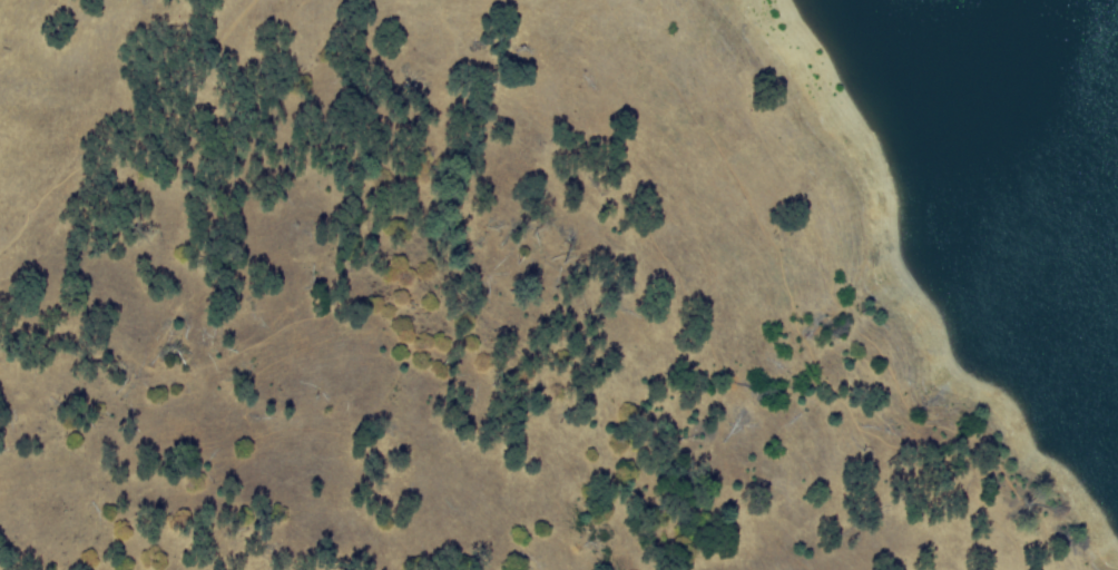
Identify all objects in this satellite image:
river: (1088, 141)

